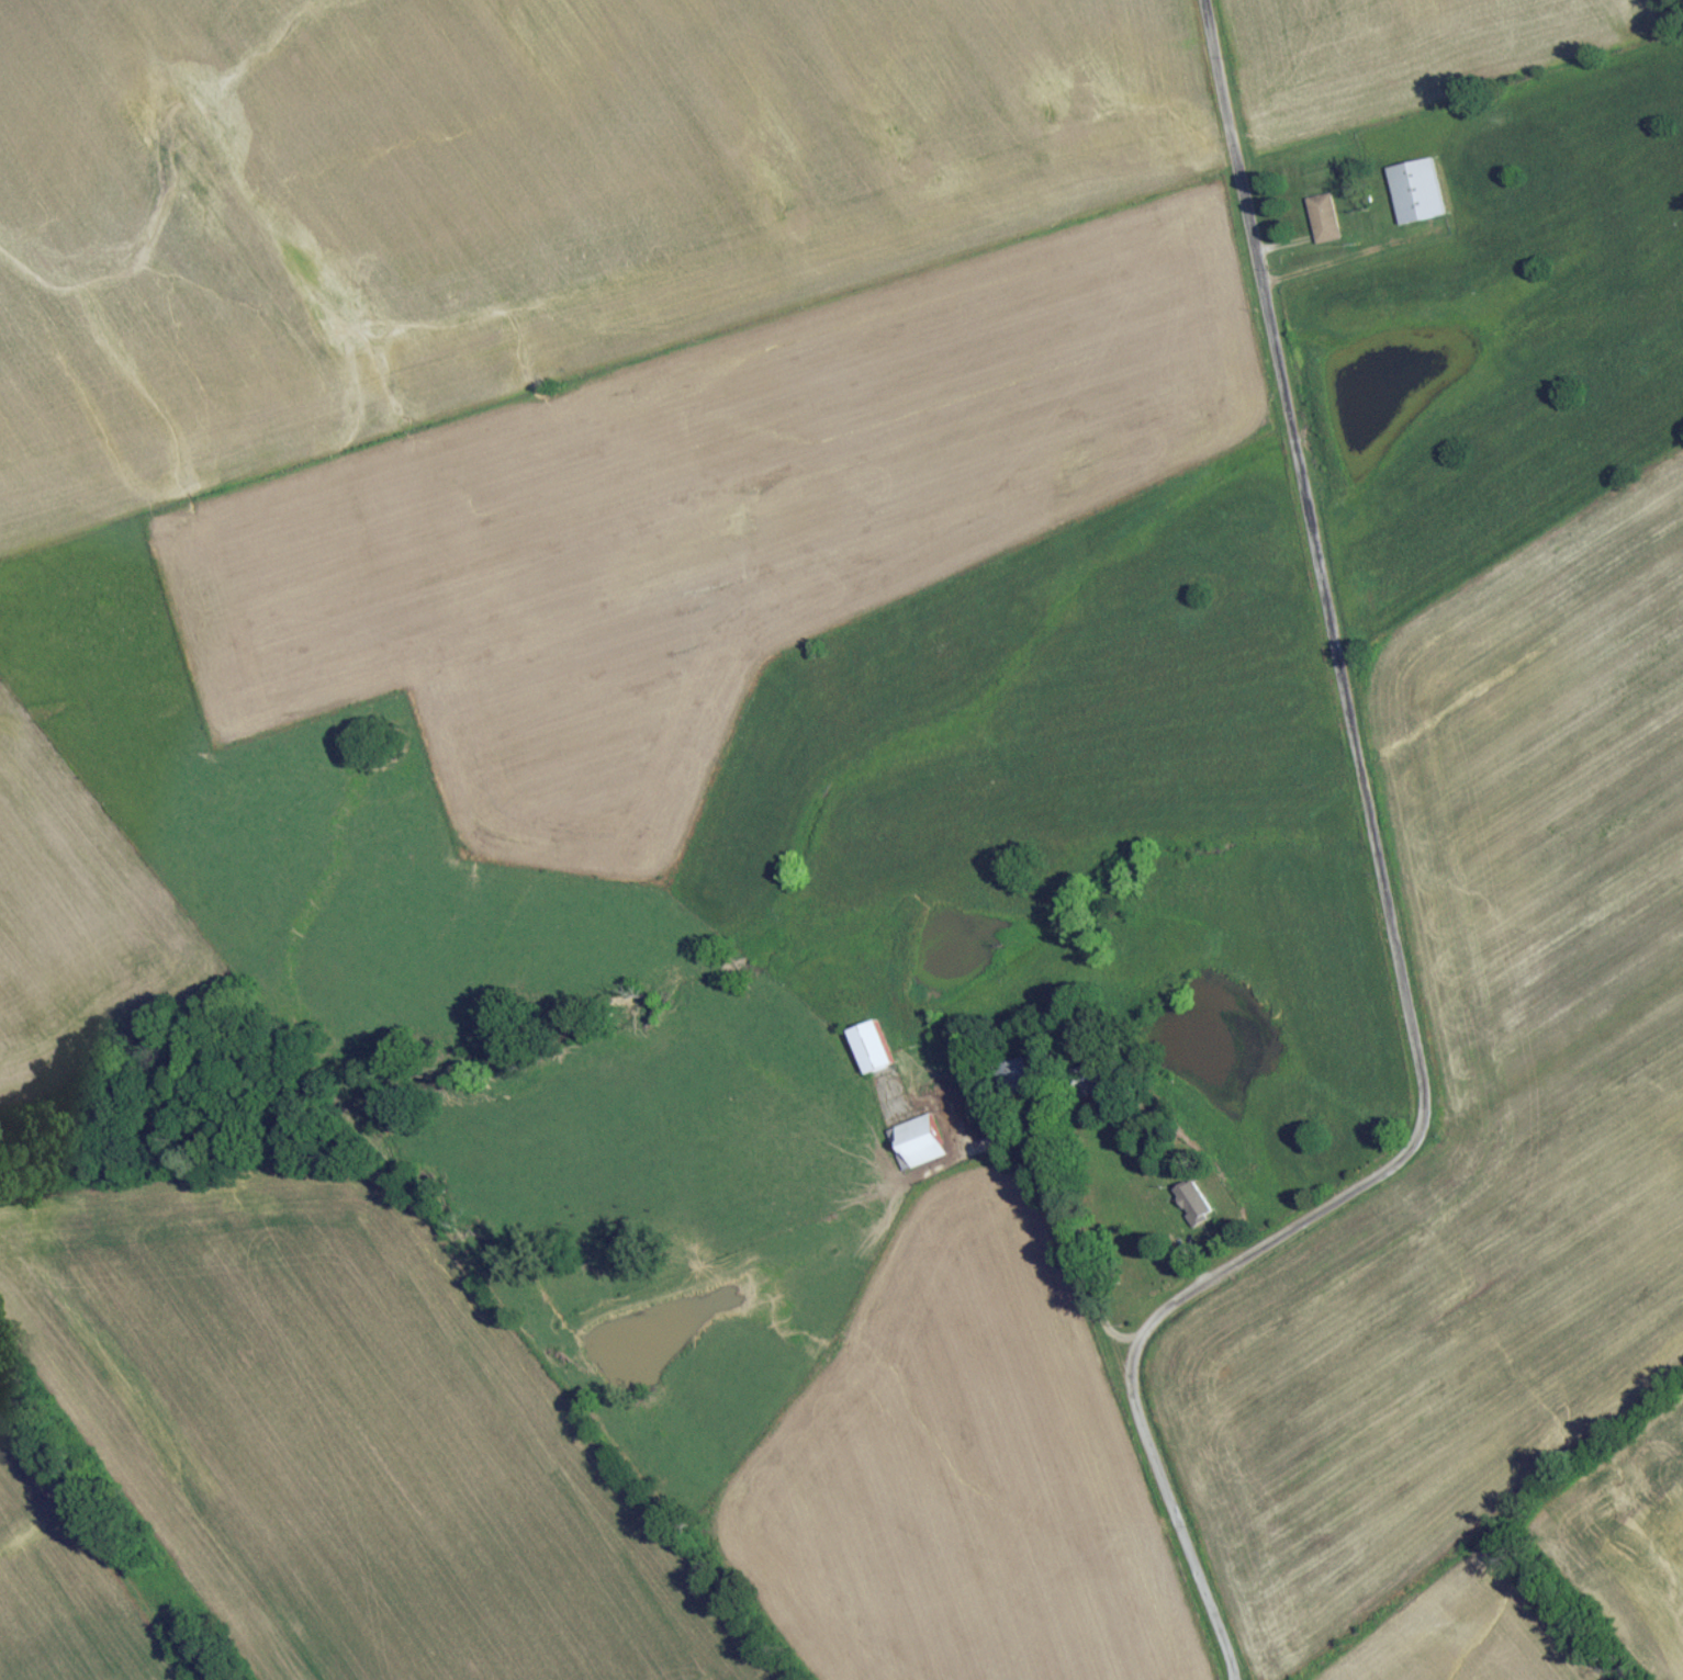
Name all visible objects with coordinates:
building: (1416, 196)
building: (1324, 224)
road: (1387, 917)
building: (872, 1053)
building: (1017, 1081)
building: (918, 1148)
road: (1073, 1244)

